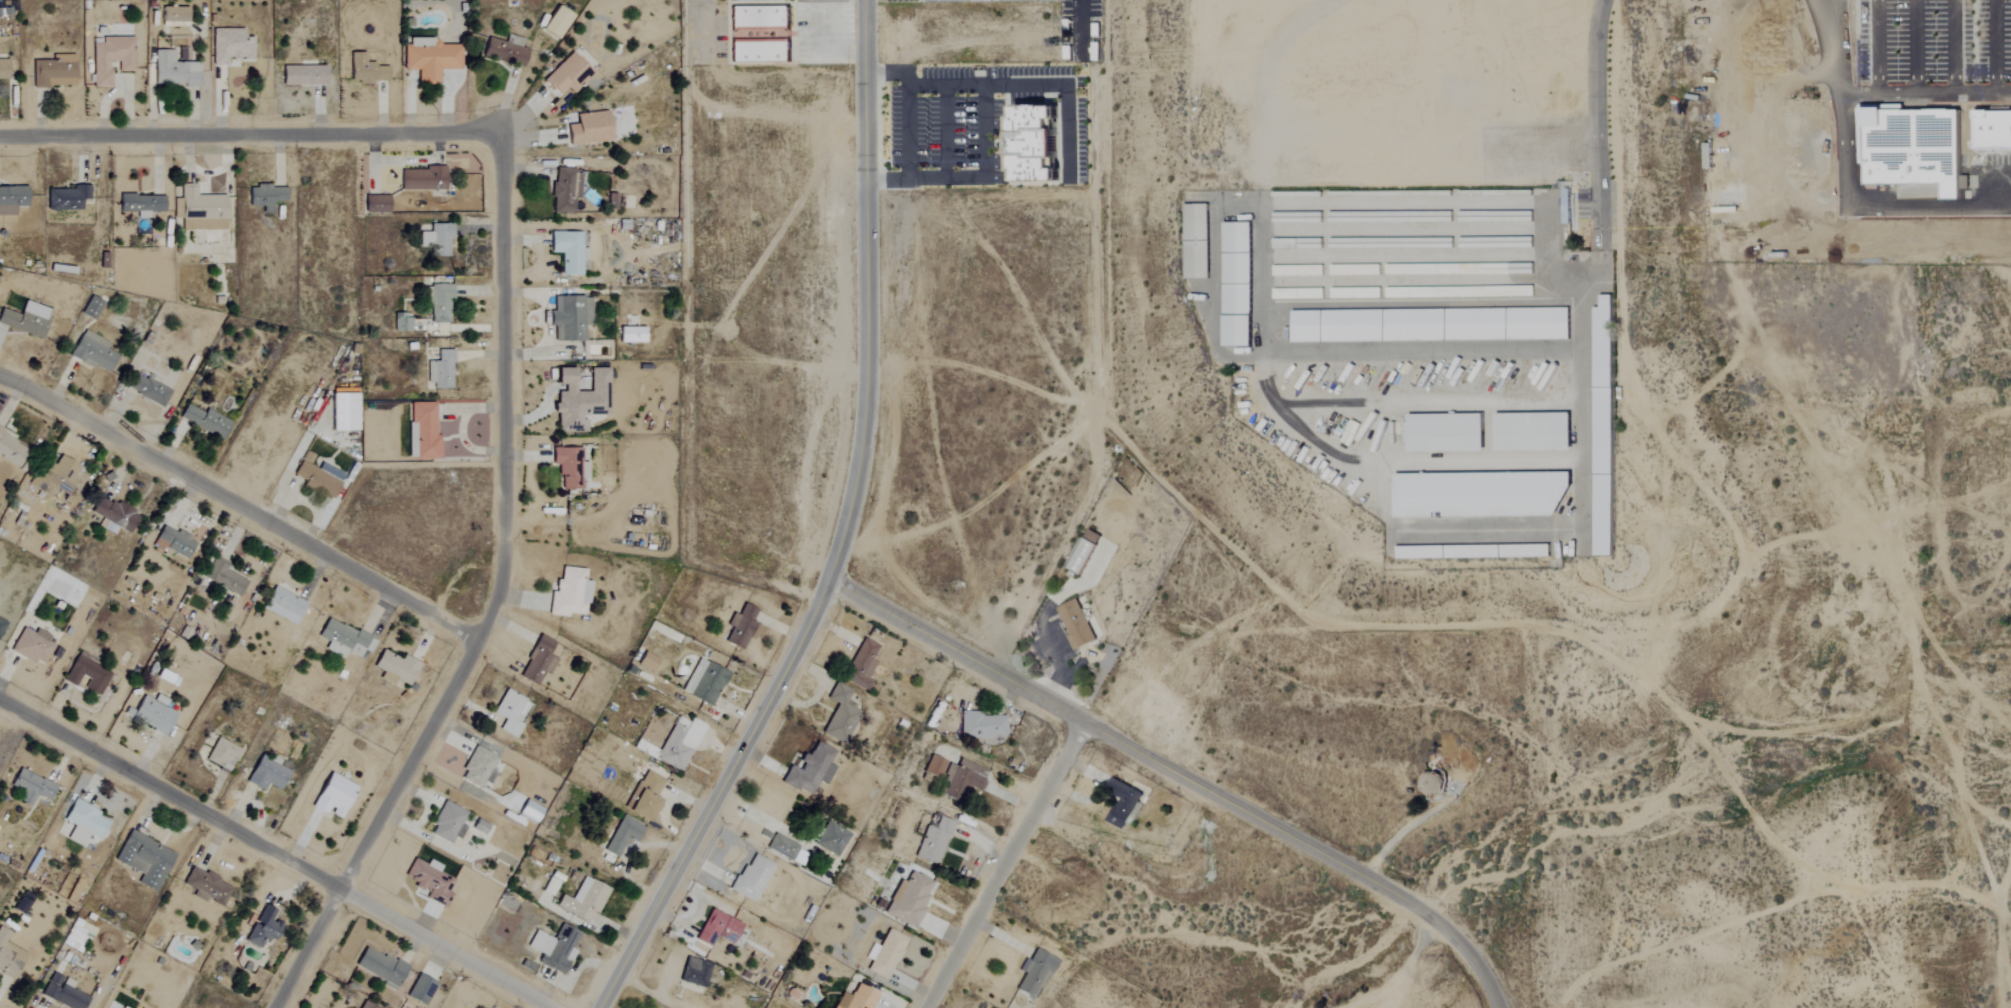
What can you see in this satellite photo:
building: (749, 0)
building: (991, 0)
building: (174, 16)
building: (759, 16)
building: (556, 22)
road: (695, 25)
road: (823, 44)
building: (230, 46)
building: (504, 50)
building: (759, 51)
building: (110, 58)
building: (430, 59)
building: (4, 70)
building: (174, 70)
building: (366, 70)
building: (53, 71)
building: (568, 74)
building: (303, 75)
road: (1031, 84)
road: (906, 125)
building: (589, 128)
road: (249, 134)
building: (1035, 143)
road: (1598, 146)
road: (982, 169)
building: (422, 178)
building: (565, 190)
building: (14, 196)
building: (265, 196)
building: (67, 198)
building: (140, 204)
building: (376, 204)
building: (1566, 206)
building: (199, 210)
building: (437, 239)
building: (568, 251)
building: (439, 303)
building: (91, 307)
building: (570, 318)
building: (25, 319)
building: (402, 322)
building: (631, 335)
building: (93, 352)
building: (1410, 360)
building: (440, 370)
building: (148, 390)
building: (580, 399)
building: (343, 410)
building: (206, 420)
building: (424, 430)
building: (11, 450)
building: (569, 467)
building: (317, 476)
building: (57, 477)
road: (242, 504)
building: (113, 515)
road: (841, 531)
building: (174, 542)
building: (1084, 552)
building: (225, 578)
building: (569, 593)
road: (499, 600)
building: (286, 601)
building: (1, 624)
building: (1075, 624)
building: (740, 627)
building: (345, 640)
building: (31, 646)
building: (538, 661)
building: (647, 662)
building: (861, 665)
building: (396, 668)
building: (86, 675)
building: (704, 682)
building: (510, 712)
building: (153, 713)
building: (839, 715)
building: (981, 725)
building: (679, 743)
building: (222, 754)
building: (935, 766)
building: (478, 768)
road: (1167, 769)
building: (810, 770)
building: (268, 773)
building: (962, 779)
building: (1433, 783)
building: (31, 787)
building: (333, 796)
building: (645, 796)
building: (1123, 803)
building: (530, 811)
road: (762, 820)
building: (83, 823)
building: (448, 823)
building: (479, 826)
road: (1397, 835)
building: (622, 836)
building: (933, 841)
building: (786, 850)
road: (273, 853)
building: (144, 859)
road: (1004, 865)
building: (751, 877)
building: (429, 881)
building: (549, 886)
building: (206, 887)
road: (1815, 896)
building: (909, 899)
building: (583, 900)
building: (22, 903)
building: (263, 928)
building: (716, 929)
building: (77, 936)
building: (554, 948)
building: (886, 954)
building: (9, 956)
road: (1406, 965)
building: (381, 967)
building: (695, 972)
building: (1035, 974)
building: (421, 990)
building: (62, 992)
road: (1494, 995)
building: (855, 998)
building: (365, 1005)
building: (111, 1006)

